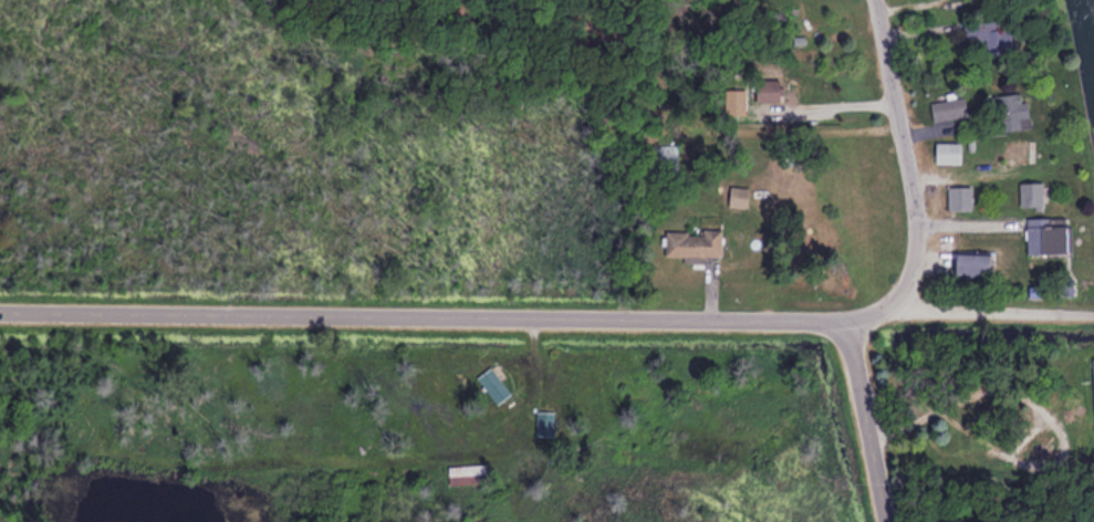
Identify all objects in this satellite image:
building: (983, 31)
building: (763, 88)
building: (947, 107)
building: (1011, 111)
building: (1015, 150)
building: (946, 152)
road: (902, 157)
building: (737, 196)
building: (958, 197)
building: (1043, 234)
building: (691, 243)
building: (968, 263)
road: (993, 314)
road: (419, 316)
road: (867, 320)
building: (1093, 380)
road: (514, 382)
building: (493, 385)
building: (544, 421)
road: (861, 421)
road: (581, 456)
building: (466, 473)

